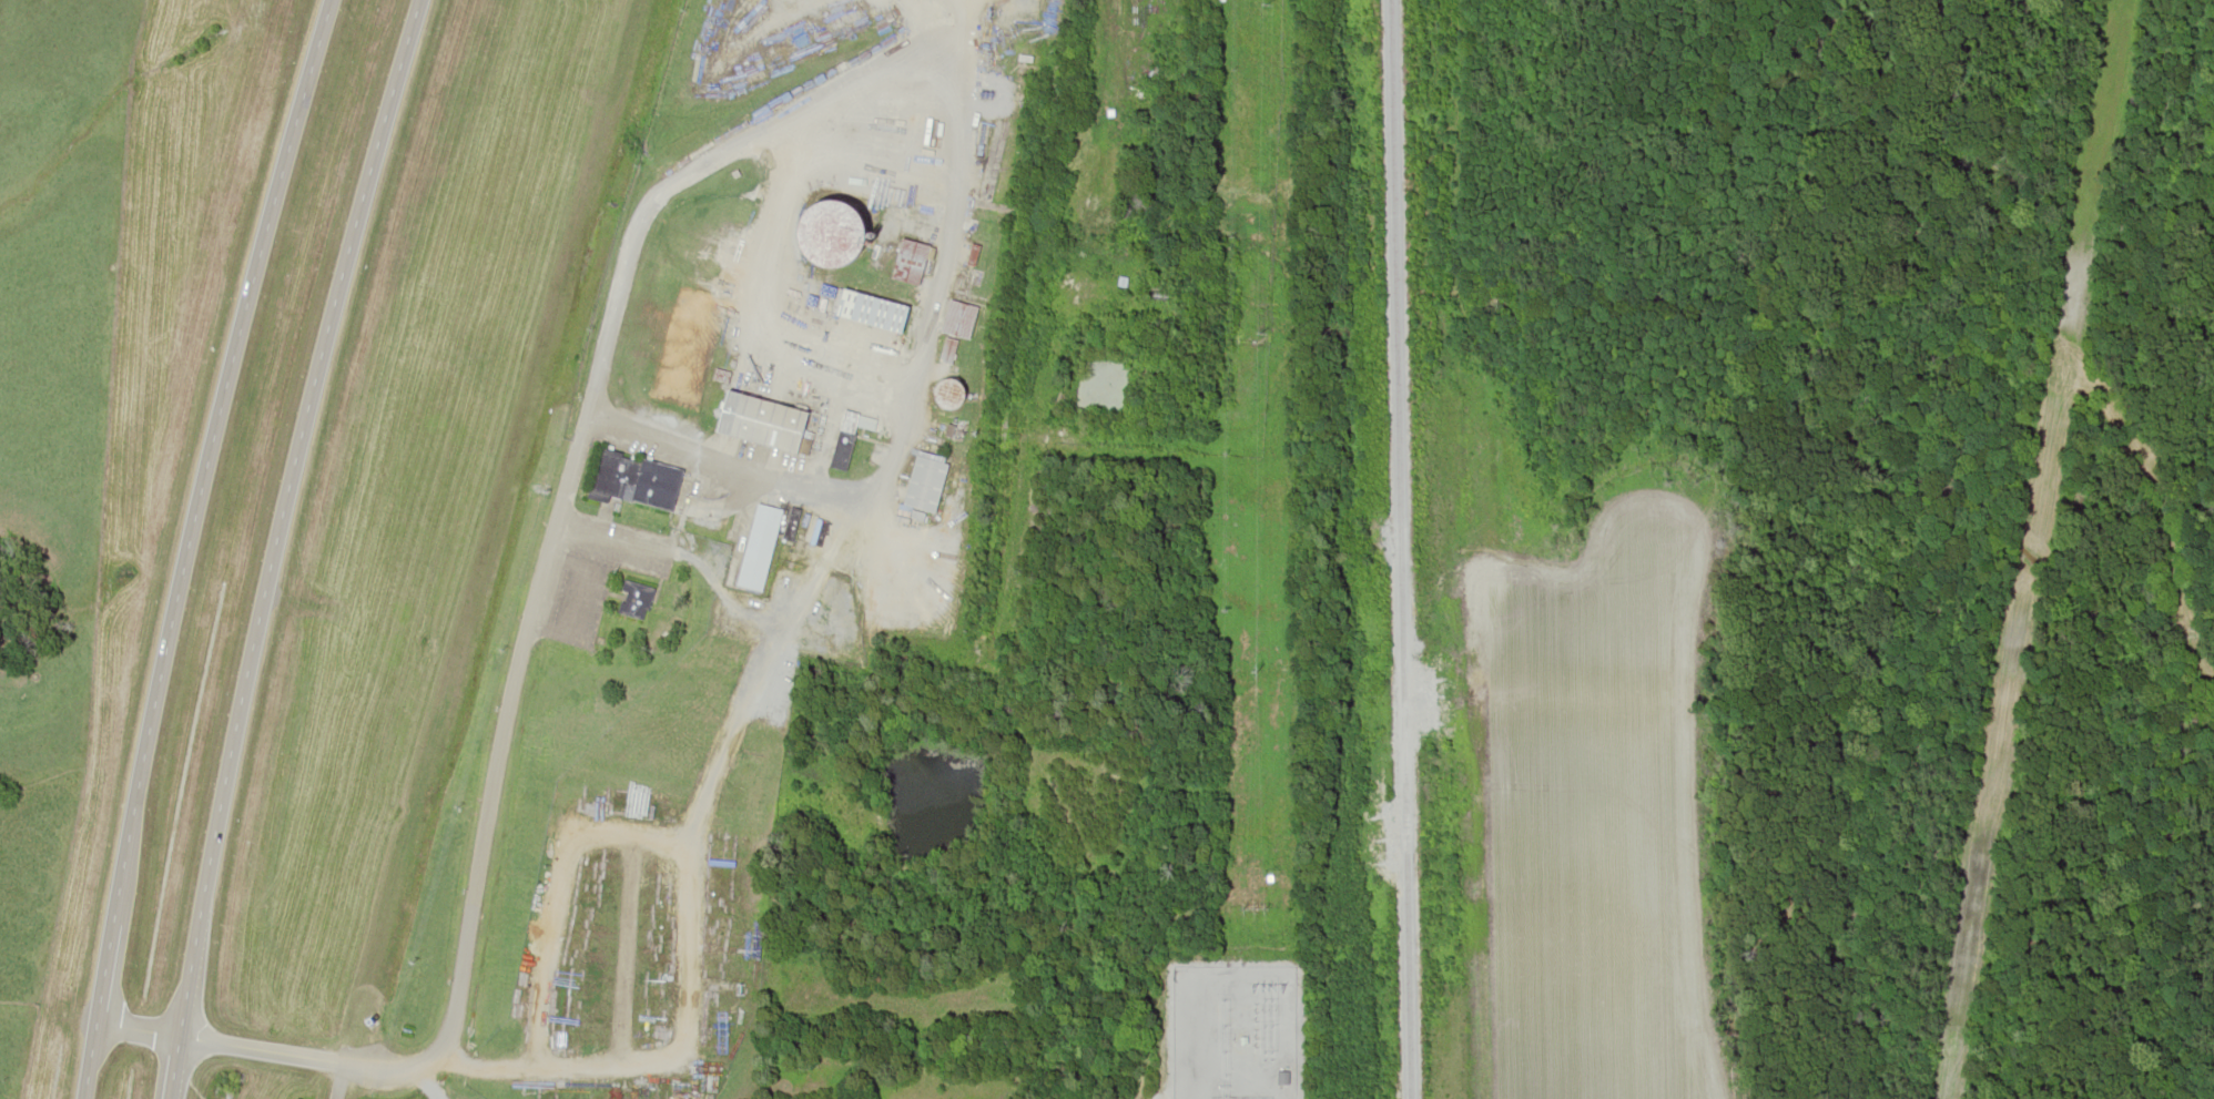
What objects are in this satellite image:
road: (718, 152)
building: (829, 234)
building: (908, 262)
building: (871, 311)
railway: (1025, 318)
building: (958, 319)
building: (946, 352)
building: (947, 395)
building: (762, 420)
building: (839, 454)
building: (611, 472)
building: (923, 482)
building: (656, 484)
road: (184, 543)
road: (275, 545)
building: (758, 545)
railway: (1398, 549)
building: (632, 599)
road: (660, 1064)
road: (337, 1079)
road: (422, 1081)

